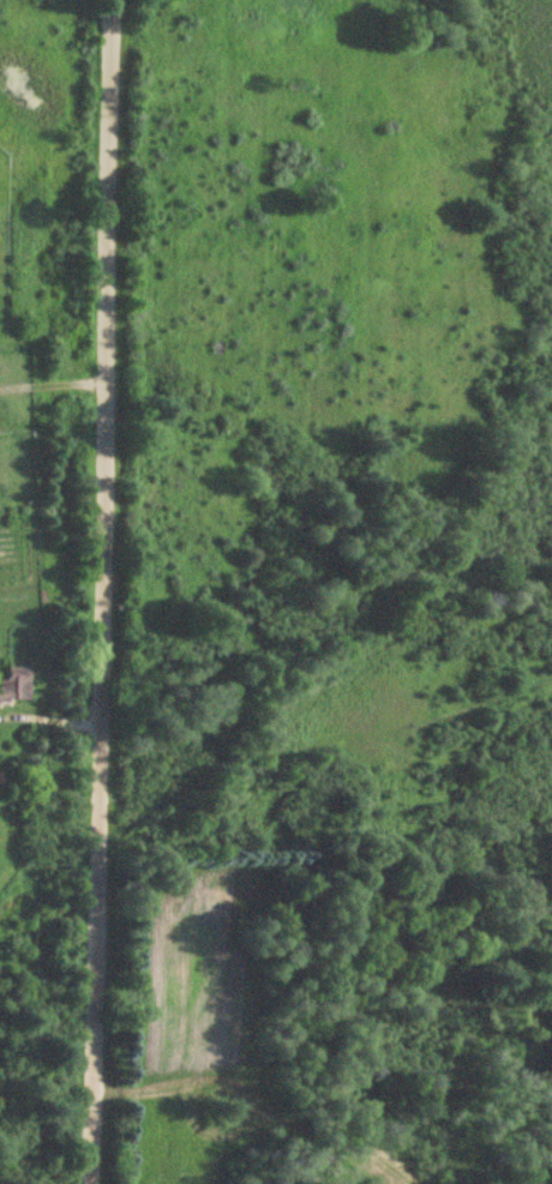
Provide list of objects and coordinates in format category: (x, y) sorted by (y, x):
road: (102, 591)
building: (13, 683)

